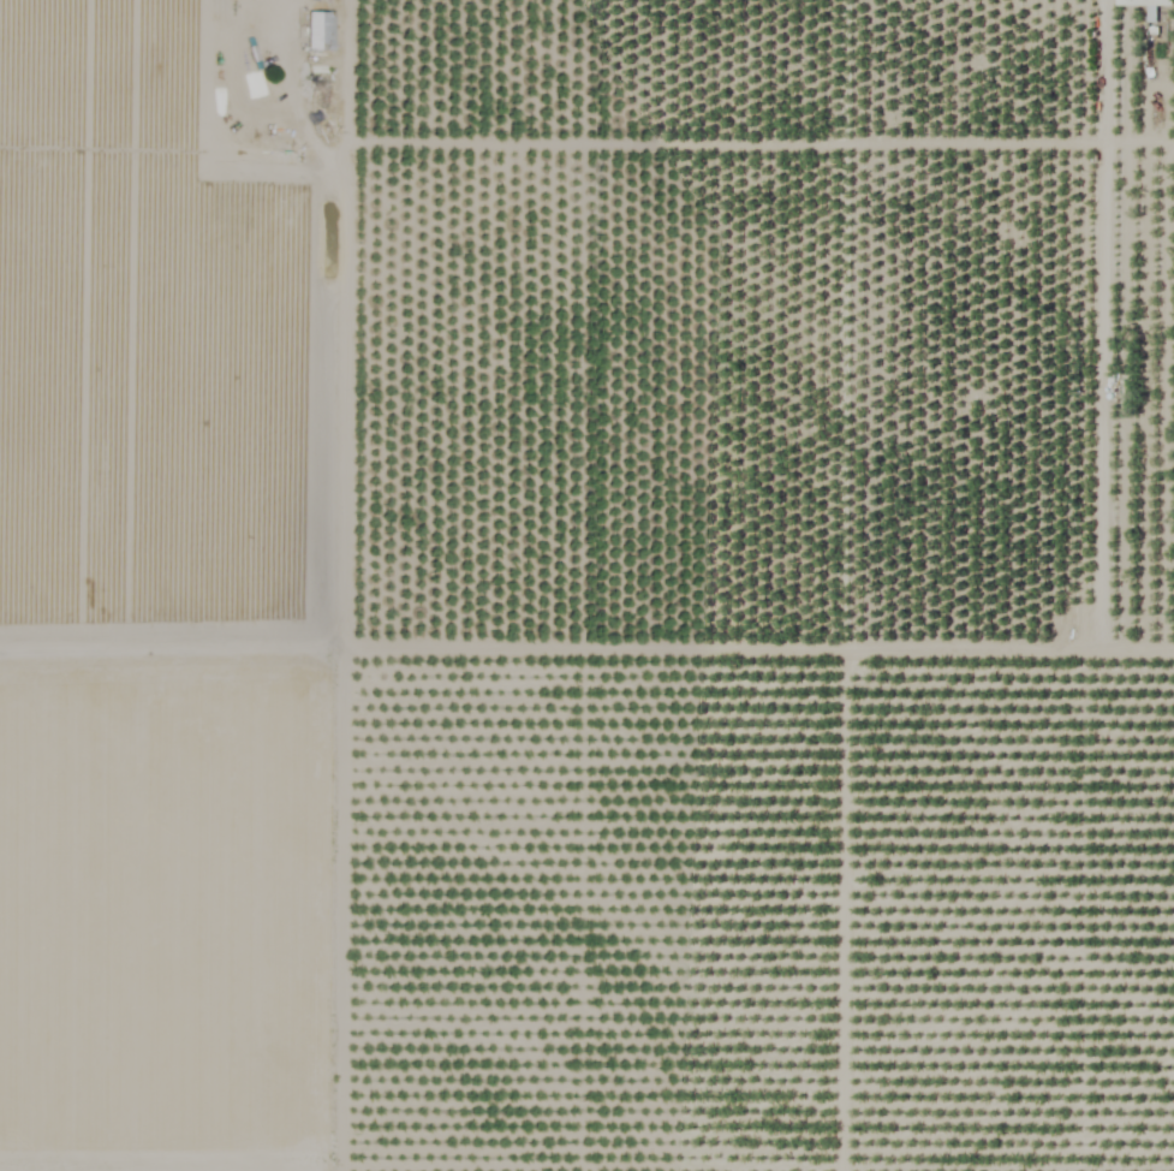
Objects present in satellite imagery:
building: (1144, 2)
road: (287, 17)
building: (317, 30)
crop: (586, 585)

